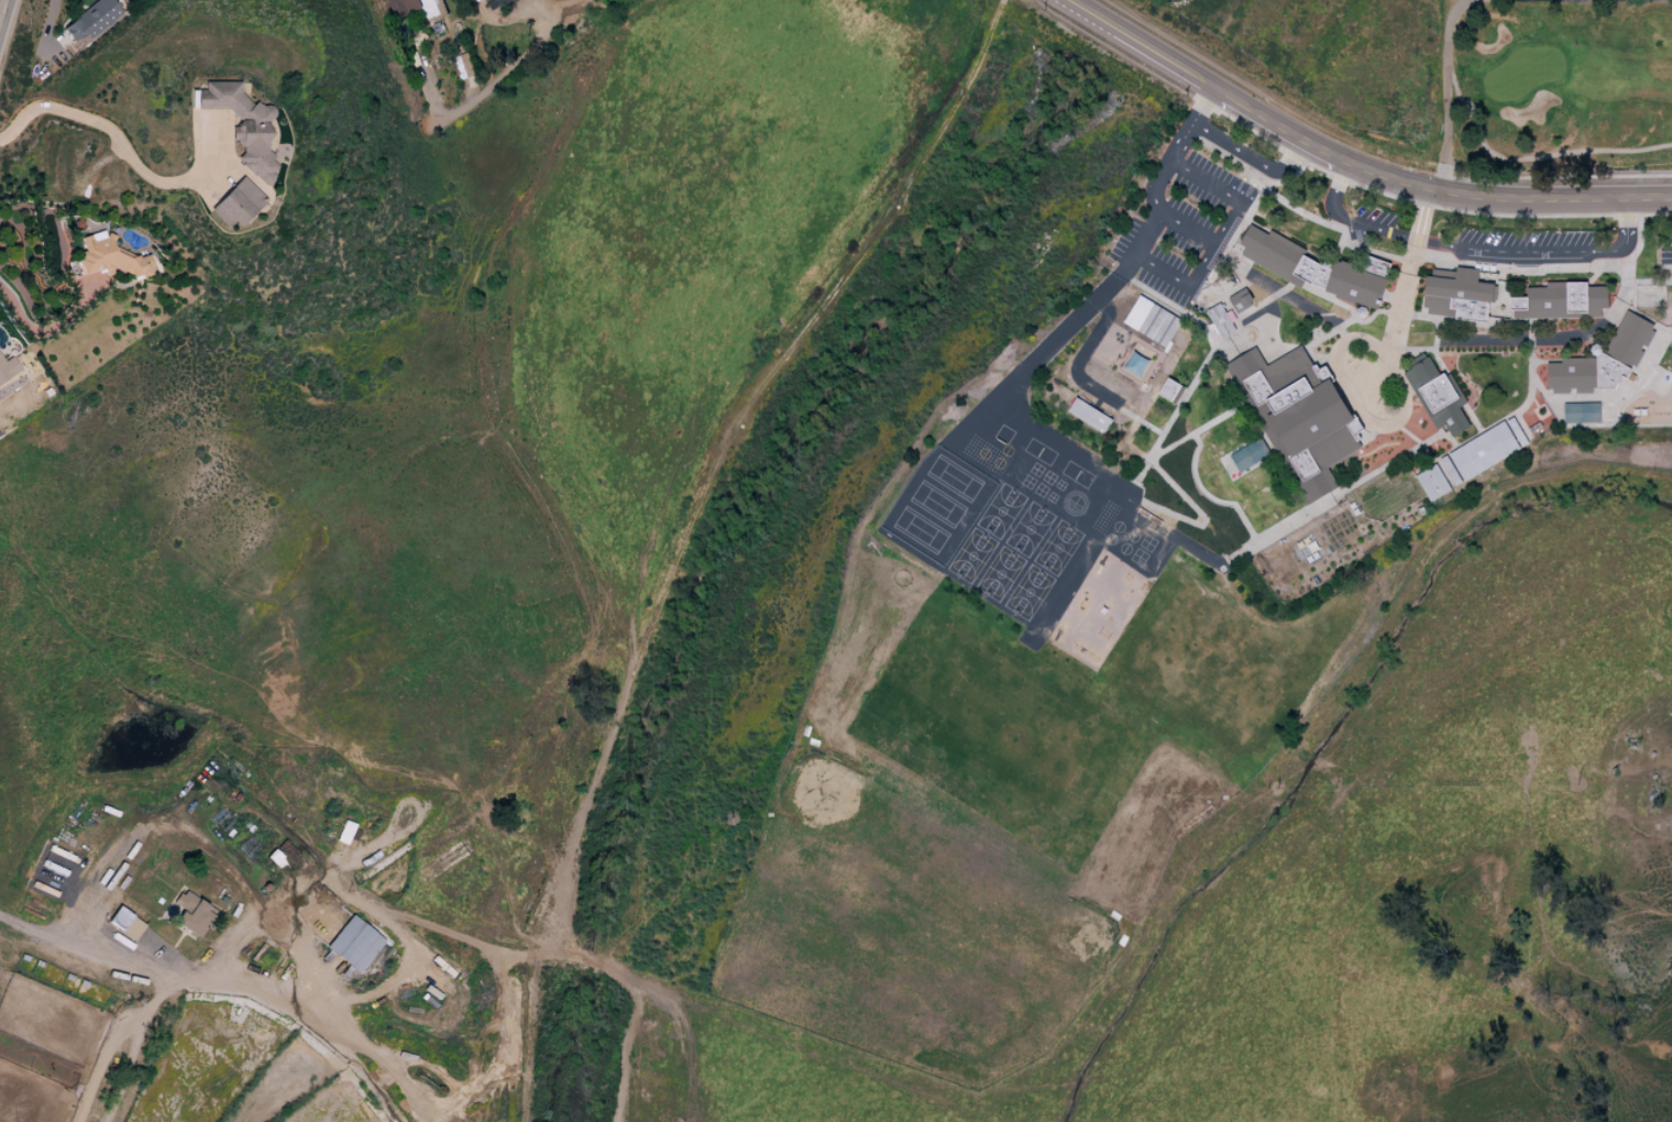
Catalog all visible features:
building: (482, 0)
building: (402, 5)
road: (554, 8)
road: (2, 9)
building: (91, 20)
road: (1138, 44)
road: (516, 59)
building: (464, 65)
park: (1566, 78)
road: (1450, 89)
road: (1190, 123)
building: (242, 125)
road: (1277, 128)
road: (129, 155)
road: (1250, 155)
road: (1364, 169)
road: (1557, 176)
road: (1526, 197)
building: (235, 204)
road: (1426, 205)
road: (1422, 213)
road: (1217, 238)
road: (1475, 249)
parking lot: (1665, 254)
building: (109, 257)
building: (1317, 269)
road: (1162, 271)
road: (1626, 284)
road: (1274, 287)
building: (1459, 296)
road: (1404, 297)
building: (1241, 300)
building: (1561, 301)
building: (1220, 320)
building: (1152, 321)
road: (1068, 327)
road: (44, 332)
road: (1360, 332)
road: (1338, 335)
road: (1394, 339)
road: (1420, 340)
road: (1524, 340)
building: (1630, 340)
road: (1081, 356)
road: (1208, 358)
building: (1136, 364)
building: (8, 369)
building: (1572, 375)
building: (1437, 394)
road: (13, 400)
building: (1581, 411)
building: (1090, 415)
building: (1298, 416)
road: (1197, 430)
road: (1418, 441)
building: (1483, 451)
building: (1248, 454)
park: (1036, 469)
road: (714, 473)
park: (1048, 476)
park: (954, 477)
park: (1027, 482)
building: (1432, 482)
park: (1060, 485)
park: (1041, 490)
road: (1342, 490)
road: (1210, 496)
park: (1052, 497)
park: (937, 504)
park: (1001, 510)
road: (1201, 516)
park: (921, 529)
park: (1030, 529)
park: (1147, 542)
park: (1058, 548)
park: (971, 554)
park: (1138, 557)
park: (1000, 573)
park: (1028, 592)
road: (587, 658)
road: (163, 824)
building: (191, 916)
building: (352, 944)
road: (301, 956)
road: (162, 1045)
road: (484, 1078)

